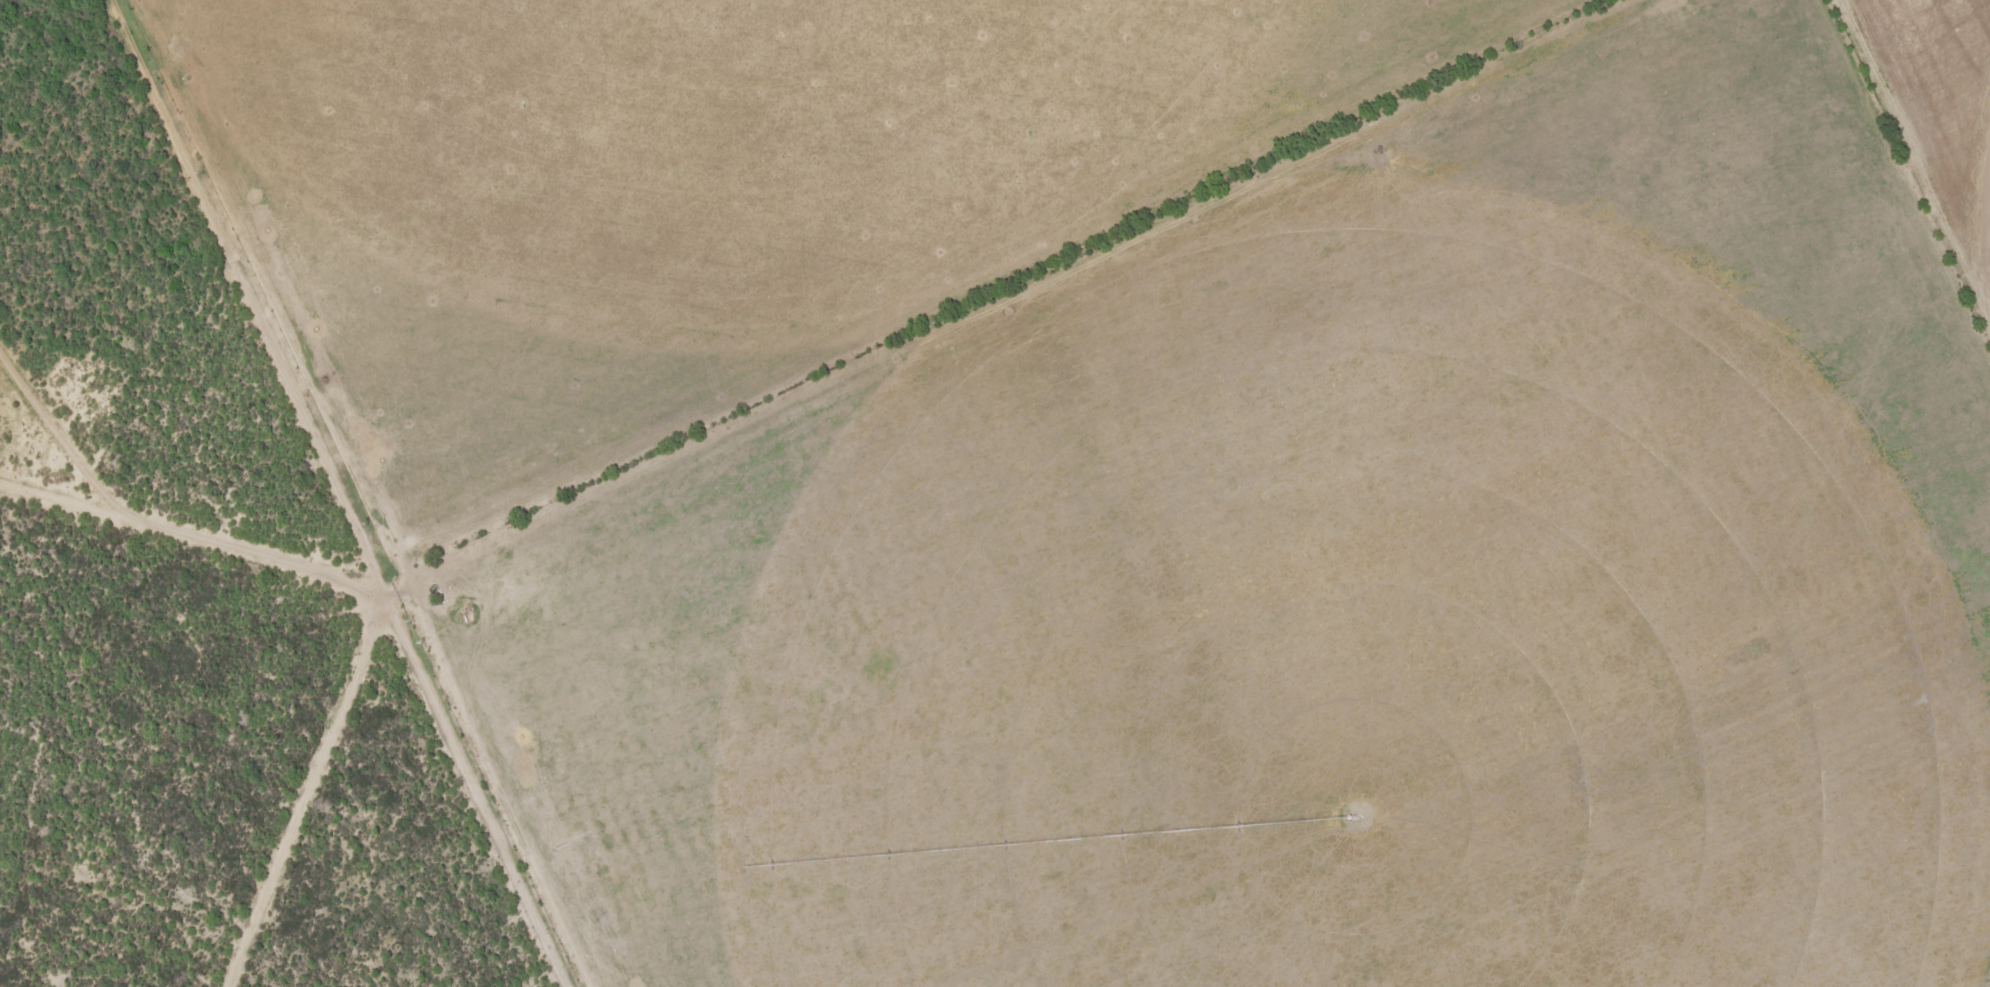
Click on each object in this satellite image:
road: (515, 284)
road: (826, 379)
road: (308, 780)

